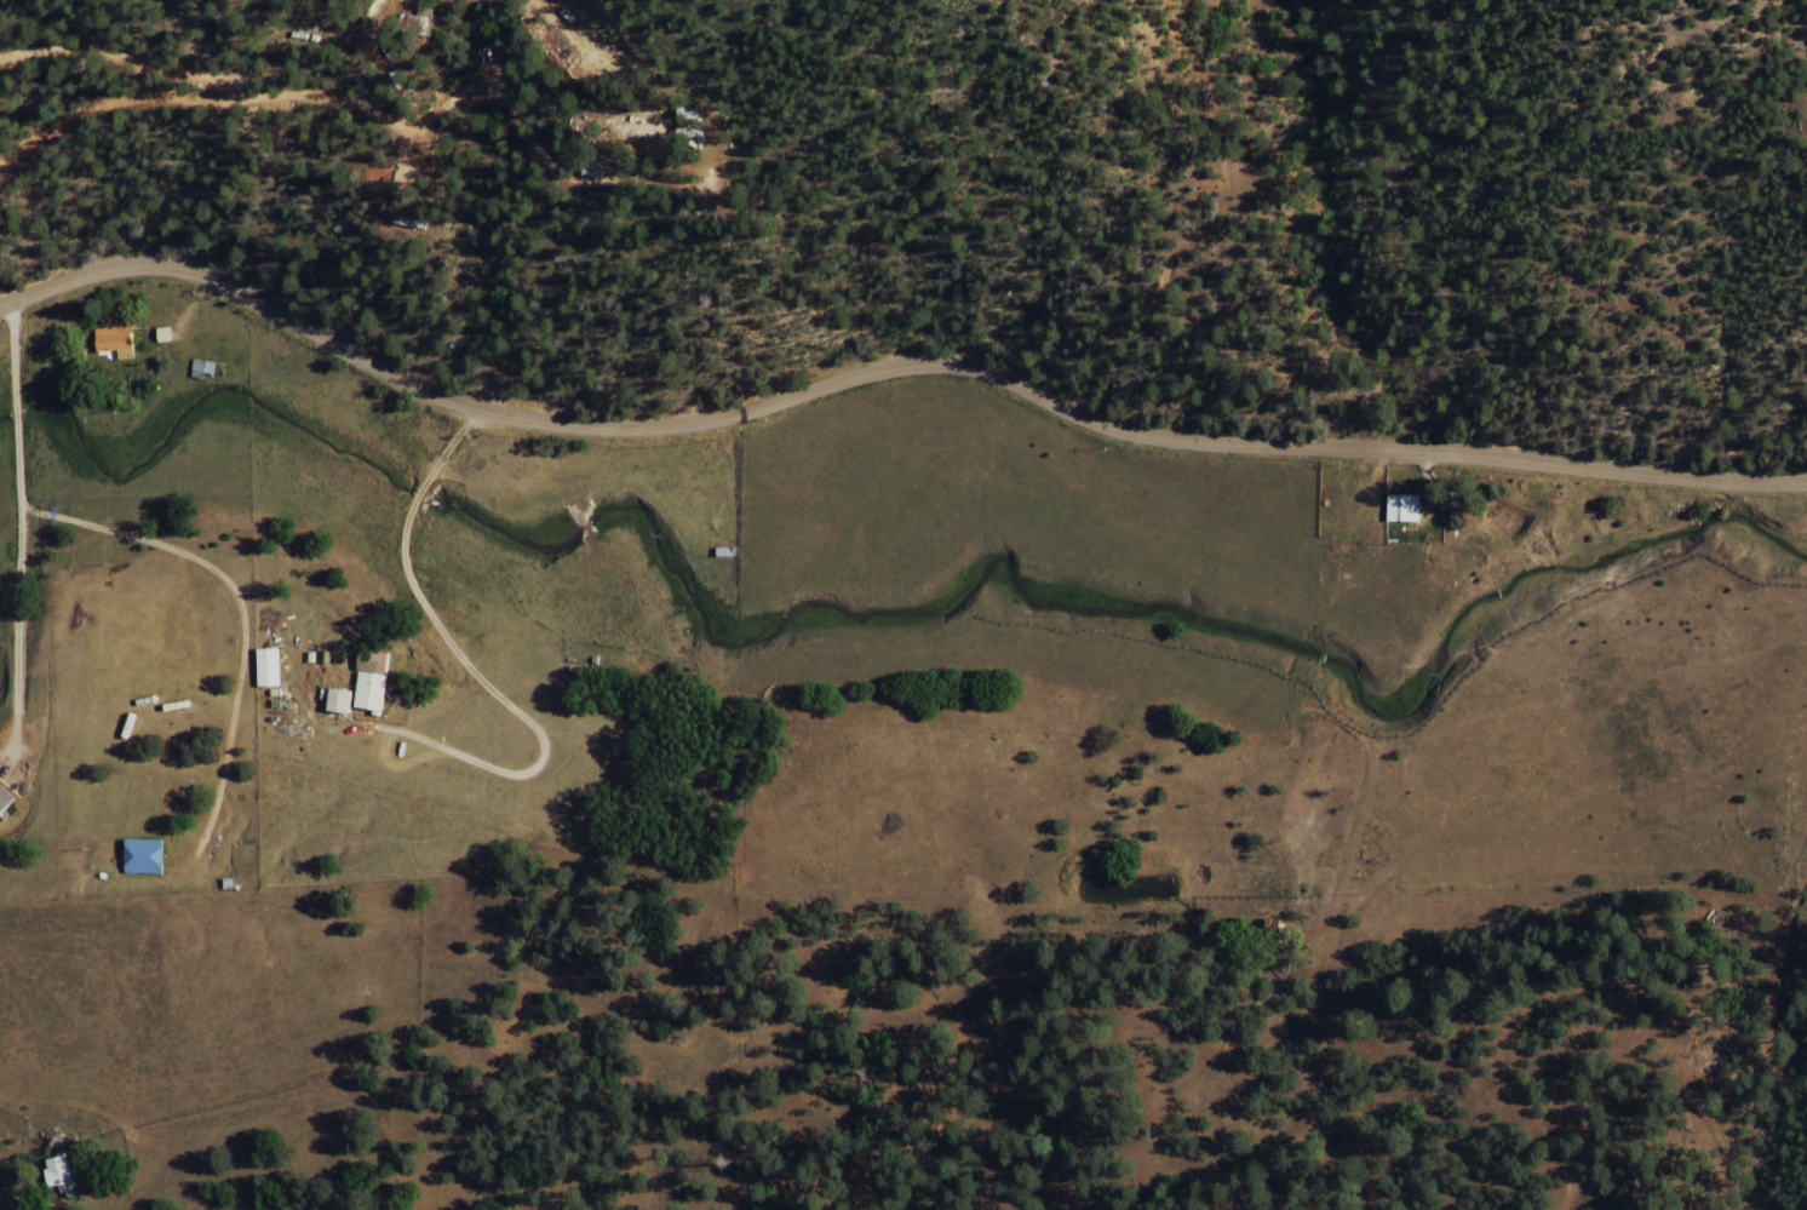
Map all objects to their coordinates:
building: (164, 336)
building: (114, 343)
road: (884, 369)
building: (1401, 507)
road: (1347, 547)
building: (268, 669)
building: (372, 681)
building: (339, 703)
building: (5, 801)
building: (144, 858)
road: (82, 1166)
building: (59, 1176)

